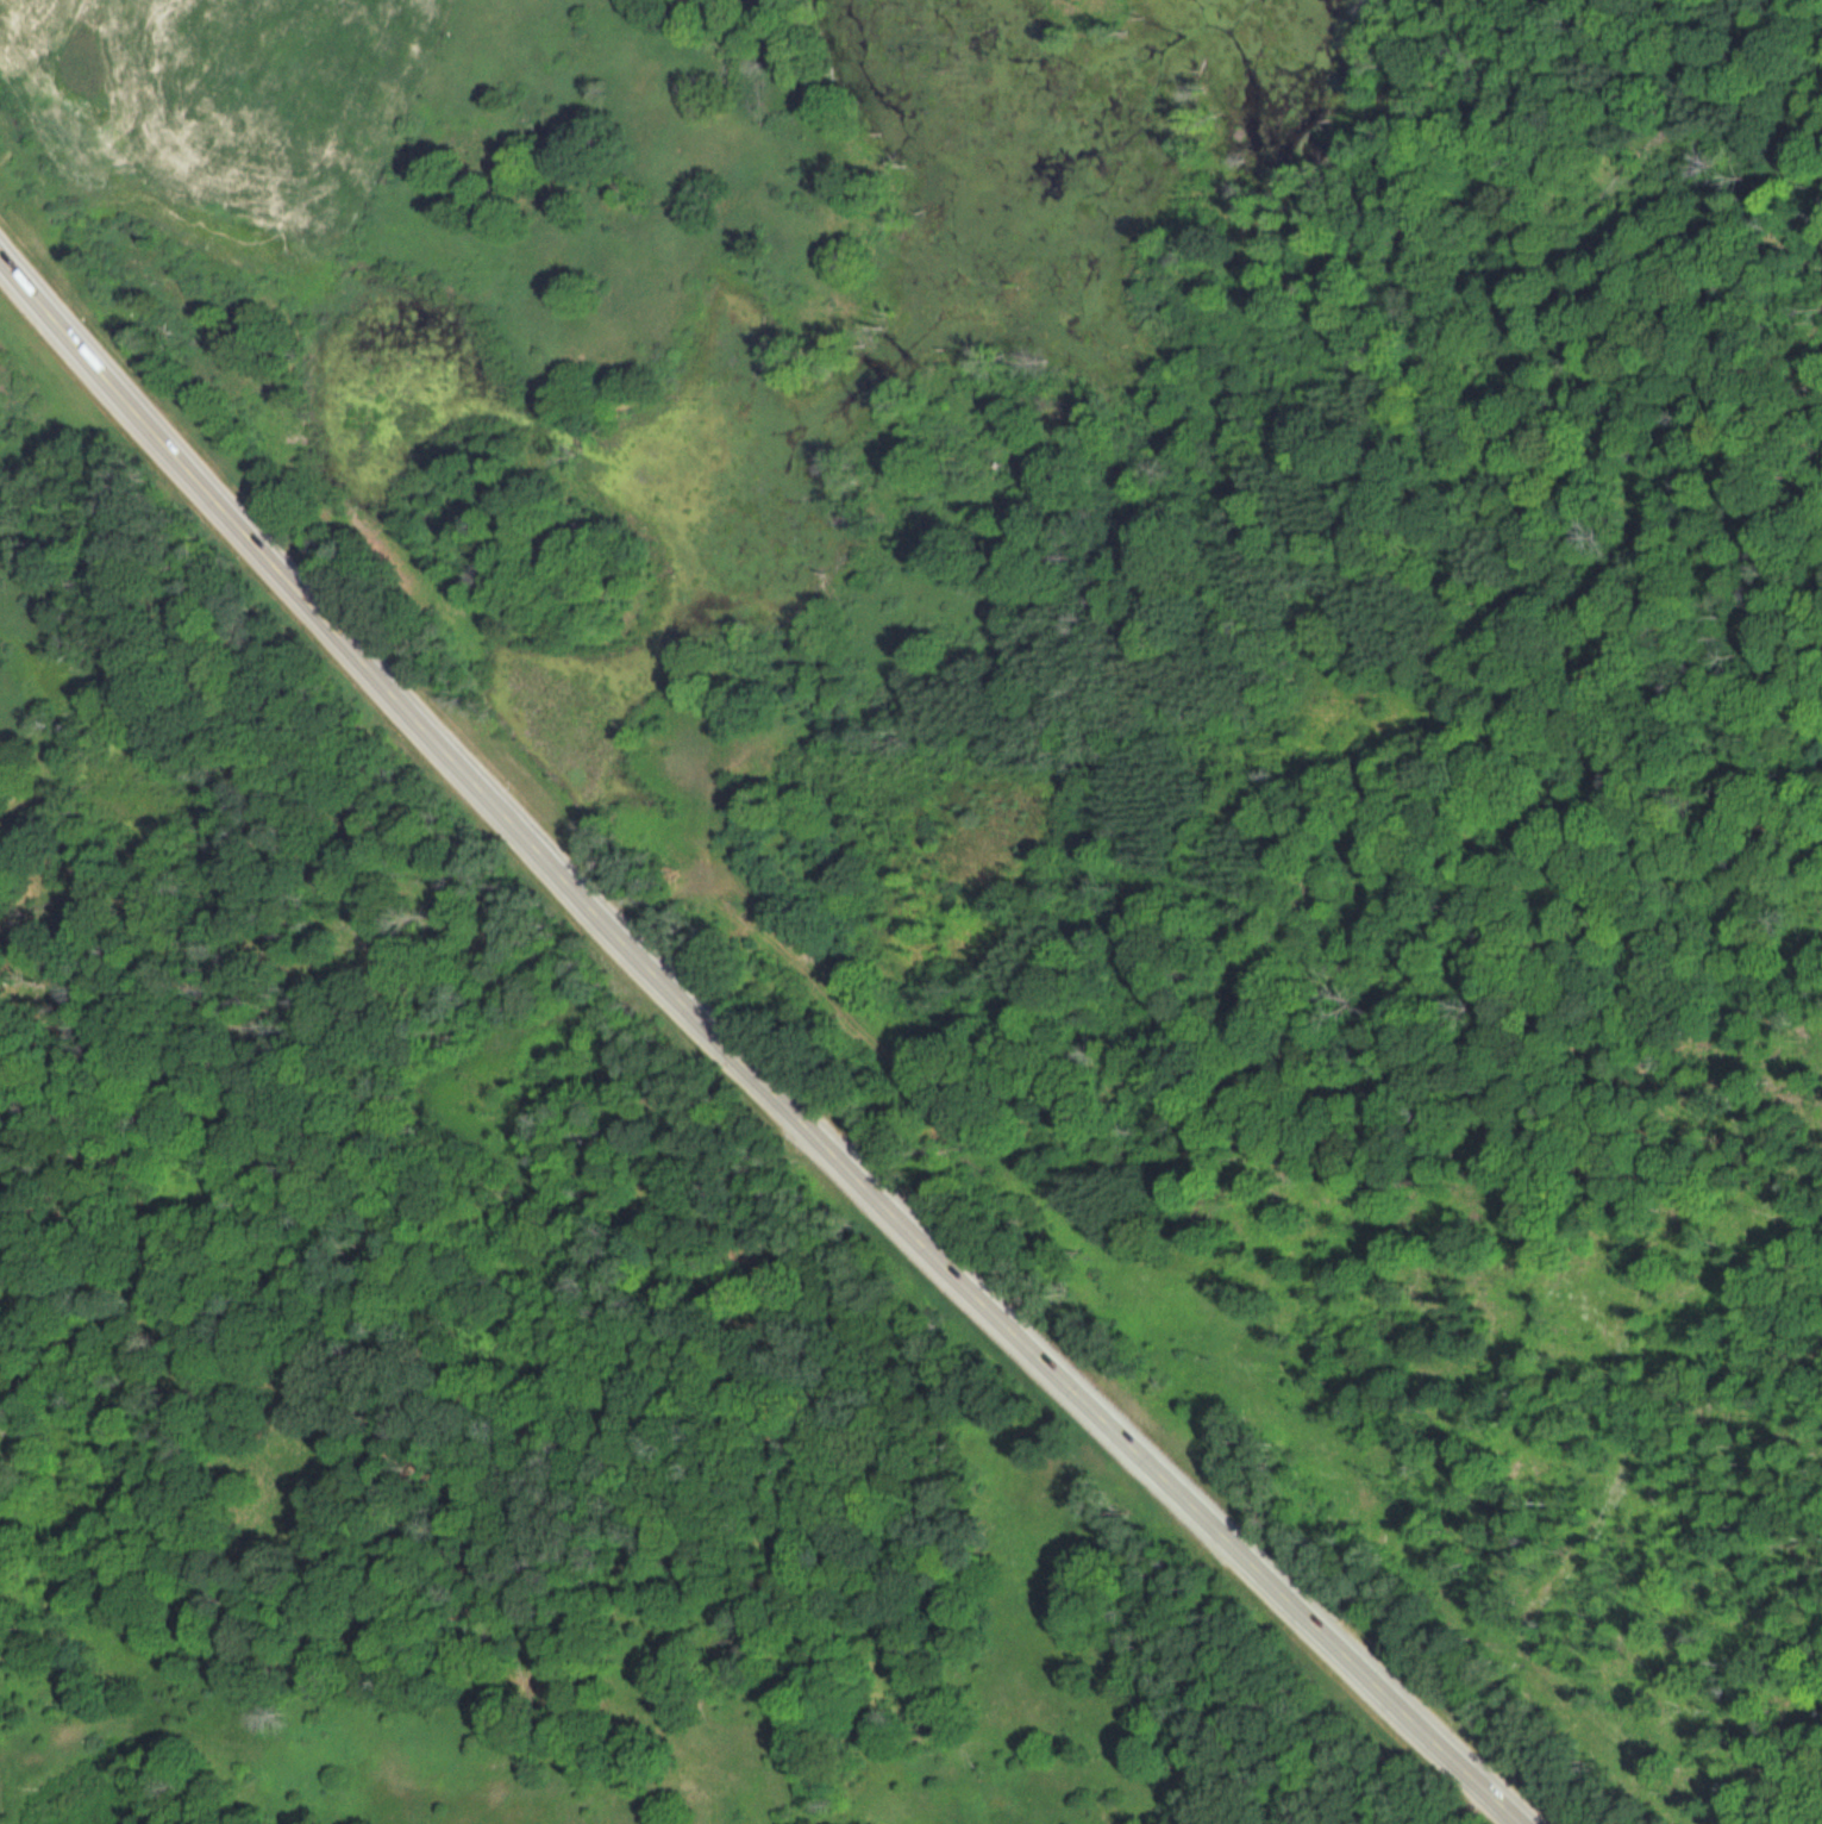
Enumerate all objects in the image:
road: (743, 1048)

